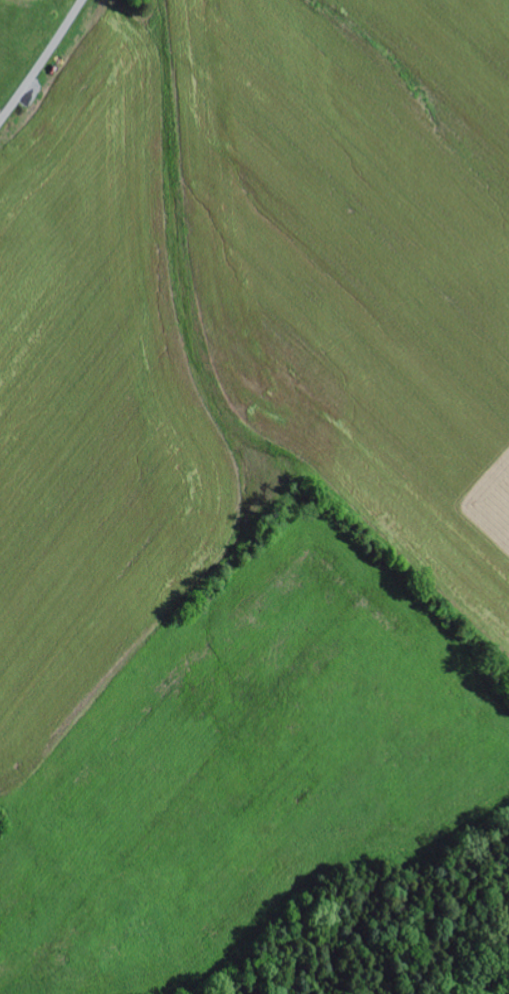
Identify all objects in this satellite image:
road: (41, 61)

